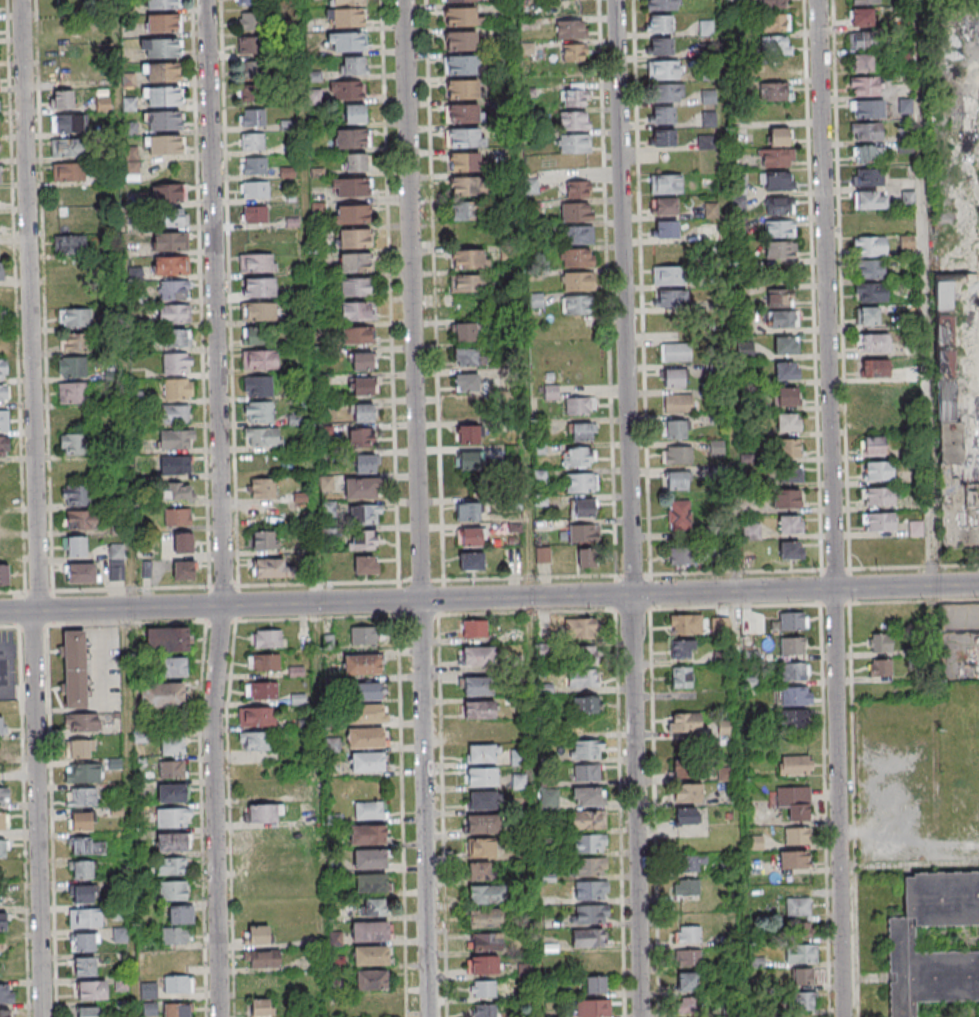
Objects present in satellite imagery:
park: (942, 0)
building: (459, 1)
building: (245, 2)
building: (865, 2)
building: (773, 3)
building: (162, 4)
building: (663, 5)
building: (346, 13)
building: (462, 17)
road: (616, 17)
building: (861, 17)
building: (248, 20)
building: (162, 23)
building: (659, 23)
building: (775, 23)
building: (571, 29)
building: (462, 40)
building: (861, 41)
building: (346, 42)
building: (248, 44)
building: (660, 45)
building: (775, 45)
building: (162, 48)
building: (574, 53)
building: (862, 63)
building: (352, 65)
building: (463, 65)
building: (663, 69)
building: (775, 69)
building: (251, 70)
building: (162, 72)
building: (866, 86)
building: (462, 89)
building: (346, 90)
building: (251, 92)
building: (670, 92)
building: (777, 92)
building: (575, 94)
building: (162, 96)
building: (708, 96)
building: (61, 99)
building: (867, 109)
building: (353, 113)
building: (464, 113)
building: (661, 115)
building: (251, 117)
building: (708, 118)
building: (164, 120)
building: (574, 120)
building: (66, 122)
building: (867, 132)
building: (779, 136)
building: (352, 137)
building: (464, 137)
building: (663, 137)
building: (251, 141)
building: (706, 142)
building: (574, 143)
building: (165, 144)
building: (66, 147)
building: (869, 154)
building: (775, 157)
building: (465, 161)
building: (357, 162)
building: (253, 165)
building: (67, 171)
building: (868, 176)
building: (776, 180)
building: (666, 184)
building: (468, 186)
building: (530, 186)
building: (350, 187)
building: (577, 188)
building: (254, 189)
building: (167, 193)
building: (870, 199)
building: (739, 200)
building: (779, 205)
building: (664, 206)
building: (466, 210)
building: (576, 212)
building: (254, 214)
building: (350, 214)
building: (173, 217)
building: (779, 228)
building: (665, 229)
building: (577, 235)
building: (354, 238)
building: (172, 241)
building: (68, 244)
building: (870, 245)
building: (781, 250)
building: (578, 257)
building: (469, 258)
building: (355, 262)
building: (257, 263)
building: (170, 266)
building: (871, 268)
building: (1, 271)
building: (668, 275)
building: (578, 281)
building: (466, 283)
building: (257, 287)
building: (353, 287)
road: (642, 287)
road: (607, 288)
building: (173, 290)
road: (435, 290)
building: (942, 290)
road: (391, 291)
building: (870, 292)
road: (922, 292)
road: (201, 293)
road: (229, 293)
road: (726, 296)
building: (781, 297)
road: (520, 298)
building: (670, 298)
road: (413, 300)
road: (308, 301)
road: (813, 302)
road: (842, 302)
road: (123, 304)
building: (576, 305)
building: (259, 311)
building: (357, 311)
building: (175, 313)
road: (625, 315)
building: (867, 316)
building: (75, 317)
building: (0, 319)
building: (783, 319)
building: (465, 331)
building: (358, 335)
building: (256, 336)
building: (175, 339)
building: (75, 341)
building: (869, 343)
building: (786, 345)
building: (675, 352)
building: (465, 356)
building: (259, 359)
building: (361, 361)
building: (176, 364)
building: (71, 367)
building: (874, 368)
building: (3, 371)
building: (786, 371)
building: (672, 378)
building: (466, 382)
building: (257, 386)
building: (363, 386)
building: (177, 389)
building: (73, 392)
building: (945, 395)
building: (4, 396)
building: (786, 397)
building: (677, 403)
building: (579, 405)
building: (257, 411)
building: (362, 413)
building: (174, 415)
building: (4, 422)
building: (788, 423)
building: (673, 429)
building: (582, 432)
building: (467, 433)
building: (261, 436)
building: (364, 436)
building: (176, 439)
building: (73, 444)
building: (872, 446)
building: (4, 447)
building: (789, 448)
building: (677, 454)
building: (578, 457)
building: (470, 460)
building: (364, 463)
building: (174, 465)
building: (877, 471)
building: (790, 474)
building: (676, 480)
building: (580, 483)
building: (326, 484)
building: (262, 487)
building: (361, 489)
building: (177, 492)
building: (970, 494)
building: (75, 495)
building: (877, 497)
building: (788, 498)
road: (37, 508)
road: (221, 508)
building: (582, 508)
road: (835, 508)
building: (467, 511)
building: (956, 513)
building: (679, 514)
building: (365, 515)
building: (177, 517)
building: (79, 520)
building: (878, 522)
building: (790, 524)
building: (915, 530)
building: (751, 532)
building: (583, 533)
building: (469, 537)
building: (262, 539)
building: (363, 540)
building: (181, 542)
building: (74, 546)
building: (791, 550)
building: (680, 555)
building: (584, 558)
building: (471, 561)
building: (365, 565)
building: (271, 568)
building: (182, 570)
building: (116, 571)
building: (81, 573)
building: (4, 574)
road: (689, 574)
road: (806, 589)
road: (105, 590)
road: (525, 597)
road: (239, 604)
road: (795, 605)
road: (209, 606)
road: (525, 613)
road: (319, 619)
building: (793, 620)
building: (680, 624)
building: (582, 627)
building: (474, 629)
building: (364, 636)
building: (265, 638)
building: (165, 639)
building: (880, 642)
building: (792, 645)
building: (680, 649)
building: (583, 655)
building: (477, 657)
building: (263, 662)
building: (361, 665)
building: (172, 666)
building: (880, 667)
building: (74, 669)
building: (794, 671)
building: (681, 676)
building: (582, 678)
building: (476, 687)
road: (17, 690)
building: (261, 691)
building: (366, 691)
building: (161, 694)
building: (795, 696)
road: (400, 704)
building: (585, 704)
building: (478, 710)
building: (369, 714)
building: (256, 717)
building: (797, 718)
building: (683, 722)
building: (81, 723)
building: (1, 726)
building: (366, 738)
building: (255, 742)
building: (171, 745)
building: (79, 748)
building: (586, 750)
building: (482, 753)
building: (367, 762)
building: (1, 765)
building: (793, 765)
building: (685, 768)
building: (171, 770)
building: (83, 772)
building: (587, 773)
building: (479, 776)
building: (518, 781)
building: (687, 793)
building: (171, 794)
building: (81, 796)
building: (588, 796)
building: (4, 797)
building: (549, 799)
building: (483, 800)
building: (794, 802)
road: (741, 804)
road: (635, 805)
road: (532, 806)
road: (423, 808)
road: (319, 809)
building: (369, 811)
road: (824, 811)
road: (855, 811)
road: (128, 813)
building: (261, 814)
road: (443, 816)
building: (685, 816)
building: (172, 819)
building: (587, 820)
building: (80, 821)
building: (2, 822)
building: (482, 823)
building: (368, 835)
building: (797, 836)
building: (589, 843)
building: (172, 844)
building: (80, 845)
building: (480, 848)
building: (3, 849)
building: (793, 859)
building: (369, 860)
building: (690, 863)
building: (170, 867)
building: (589, 867)
building: (81, 869)
building: (479, 871)
building: (370, 883)
building: (686, 887)
building: (591, 889)
building: (172, 891)
building: (81, 894)
building: (487, 894)
building: (372, 906)
building: (798, 906)
building: (591, 913)
building: (181, 915)
building: (486, 917)
building: (84, 918)
building: (2, 921)
building: (371, 931)
building: (119, 934)
building: (687, 934)
building: (176, 935)
building: (257, 936)
building: (588, 937)
building: (83, 941)
building: (483, 941)
building: (903, 942)
building: (801, 953)
building: (372, 955)
building: (690, 957)
building: (261, 959)
building: (483, 964)
building: (83, 966)
building: (803, 976)
building: (370, 980)
building: (687, 981)
building: (177, 984)
building: (594, 985)
building: (483, 988)
building: (91, 990)
building: (148, 991)
building: (5, 993)
building: (804, 1001)
building: (371, 1005)
building: (687, 1005)
building: (260, 1007)
building: (593, 1008)
building: (148, 1010)
building: (176, 1010)
building: (484, 1010)
building: (86, 1011)
building: (4, 1013)

